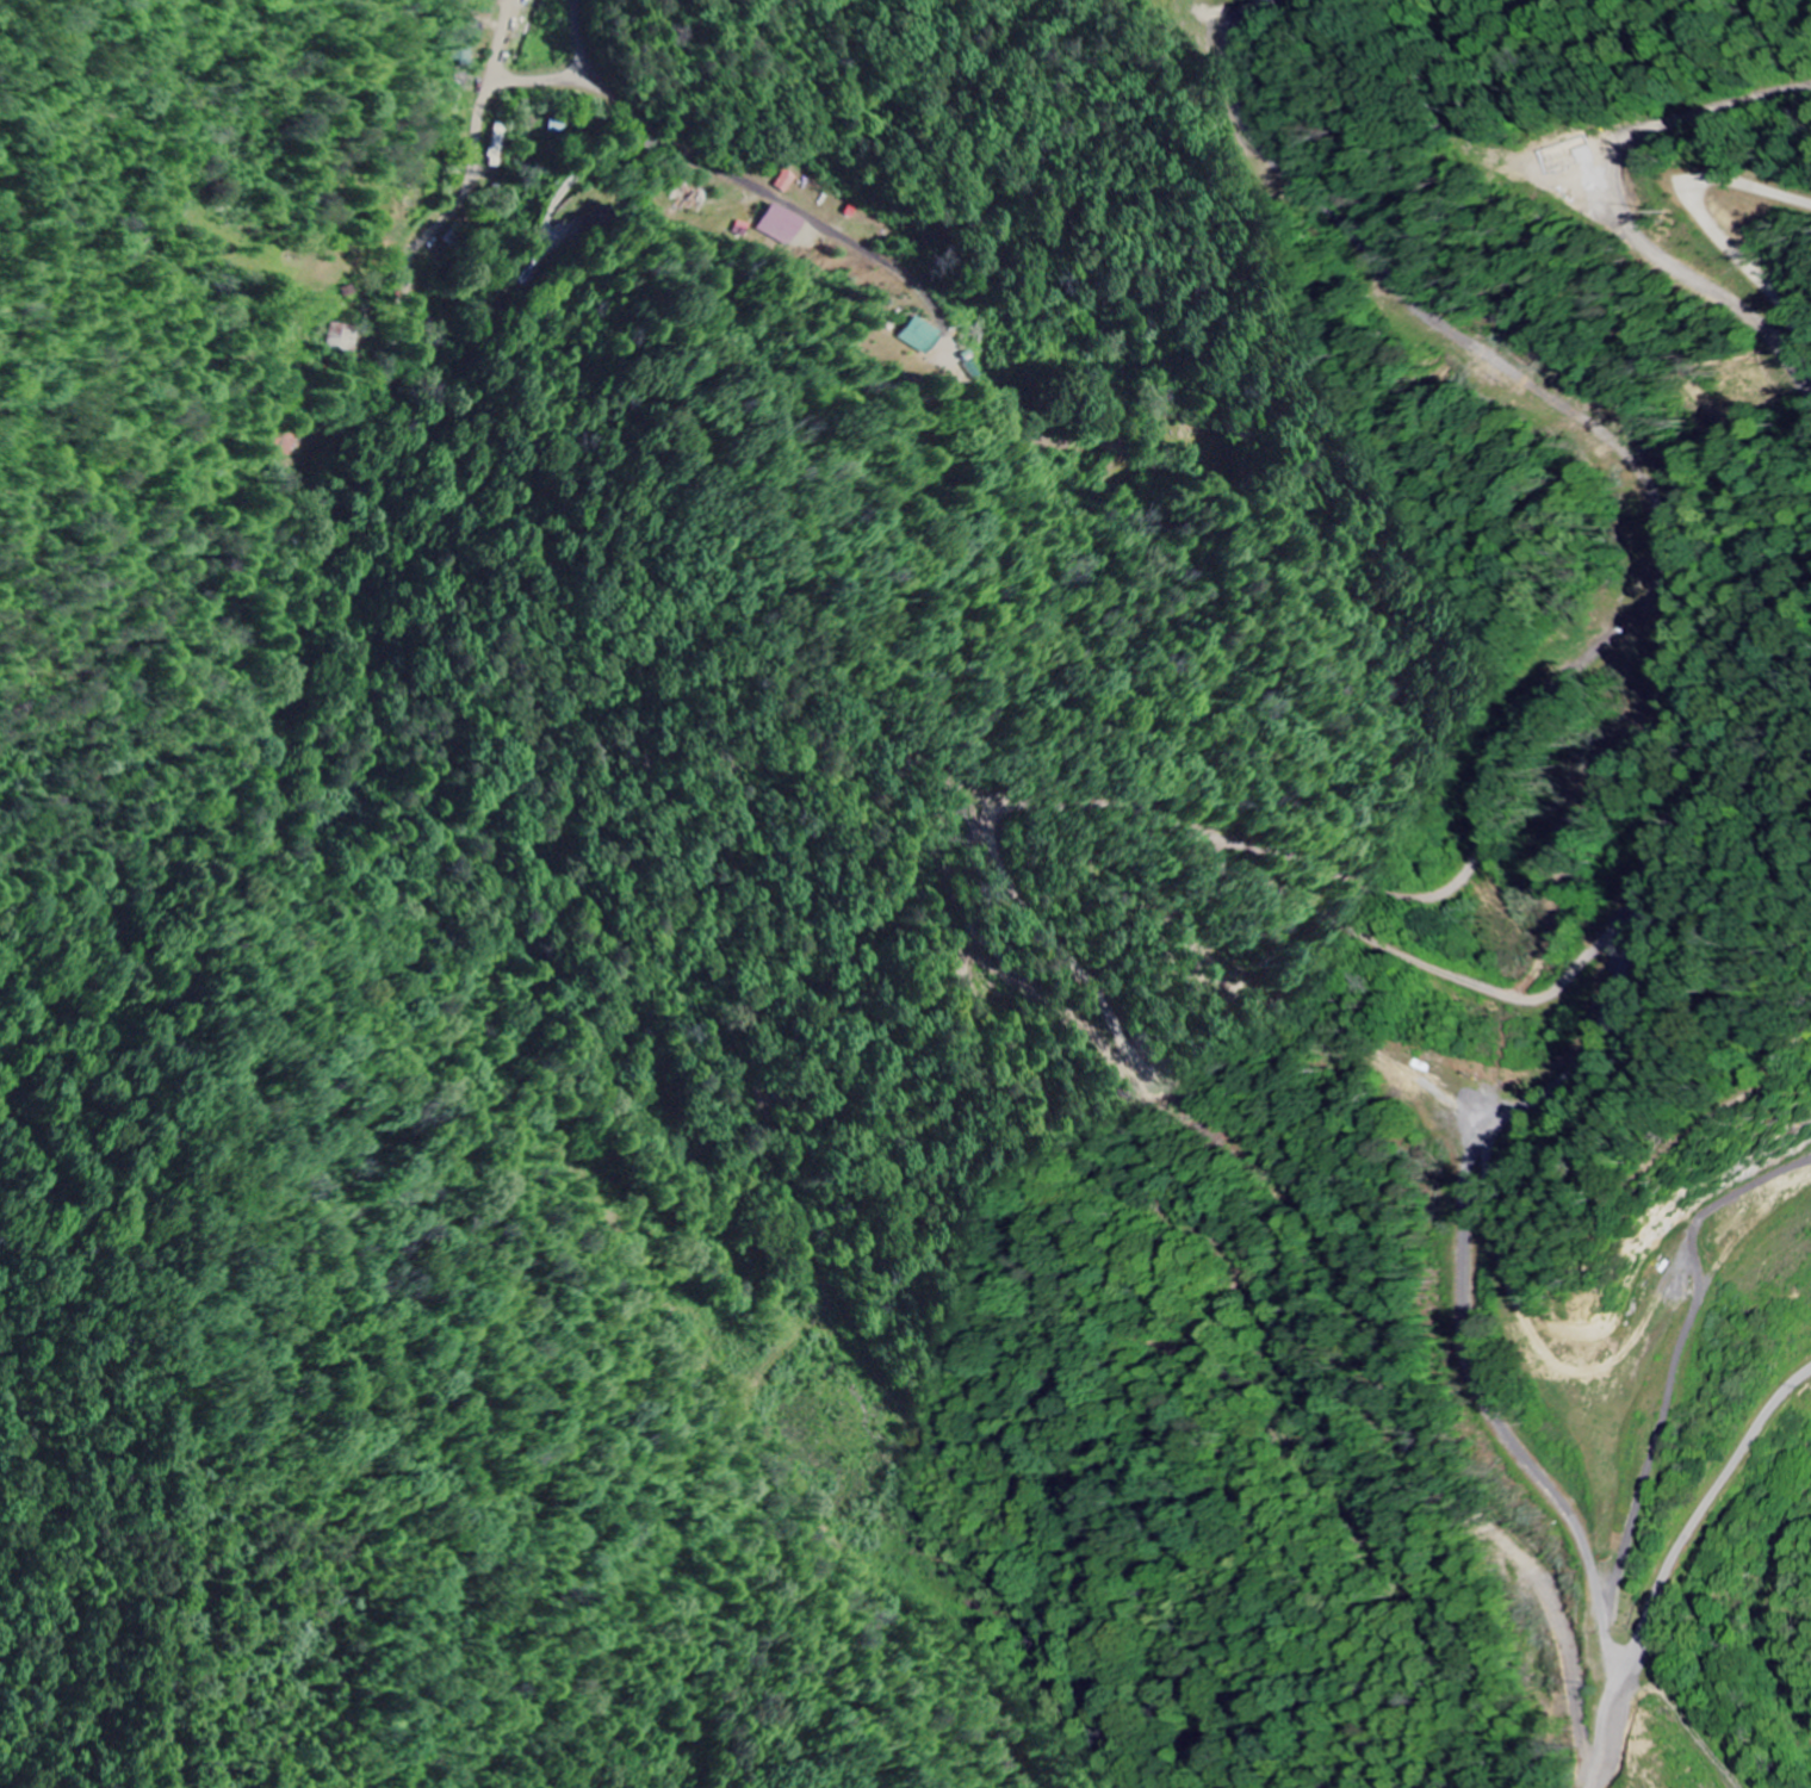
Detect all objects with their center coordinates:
road: (478, 130)
road: (665, 143)
building: (788, 182)
building: (786, 226)
building: (339, 337)
building: (923, 337)
road: (1672, 1565)

